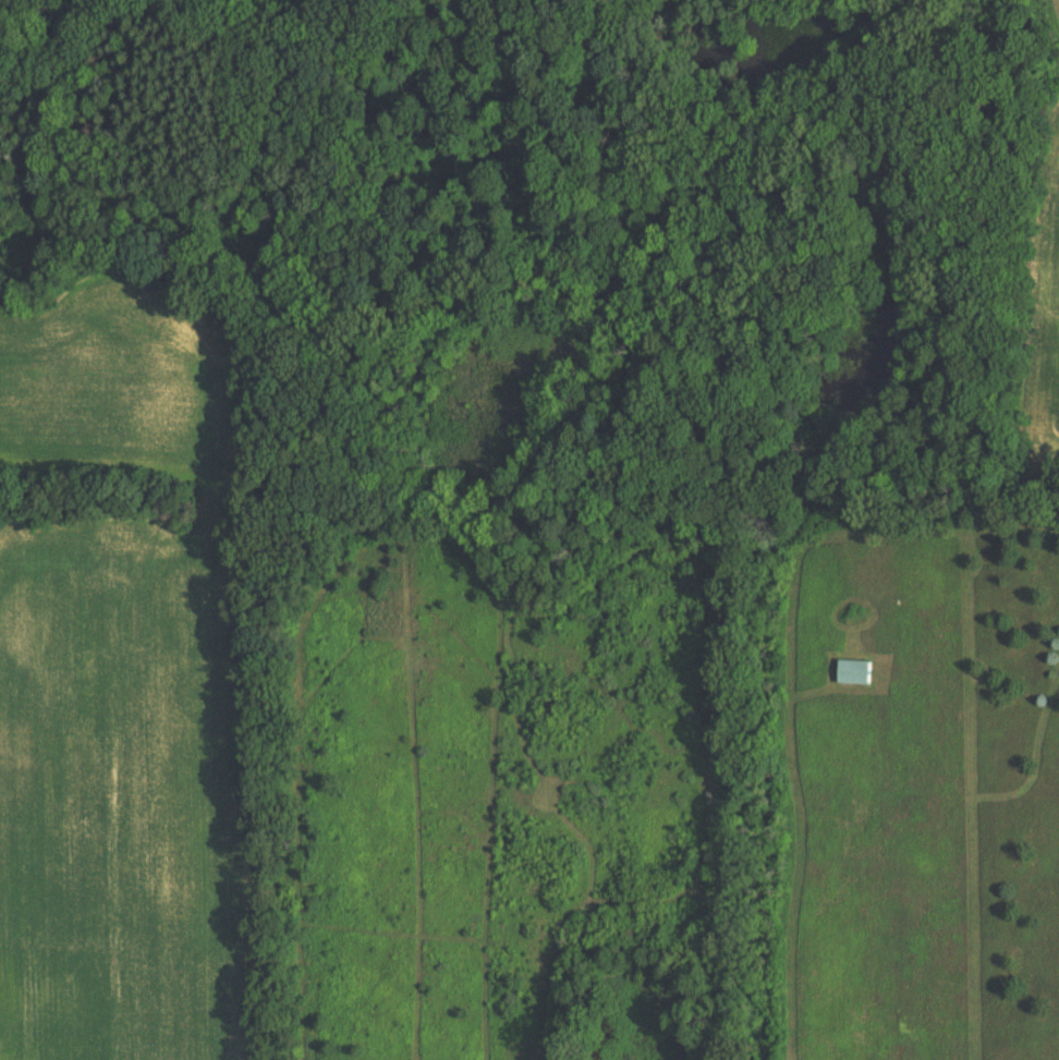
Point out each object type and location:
building: (857, 671)

